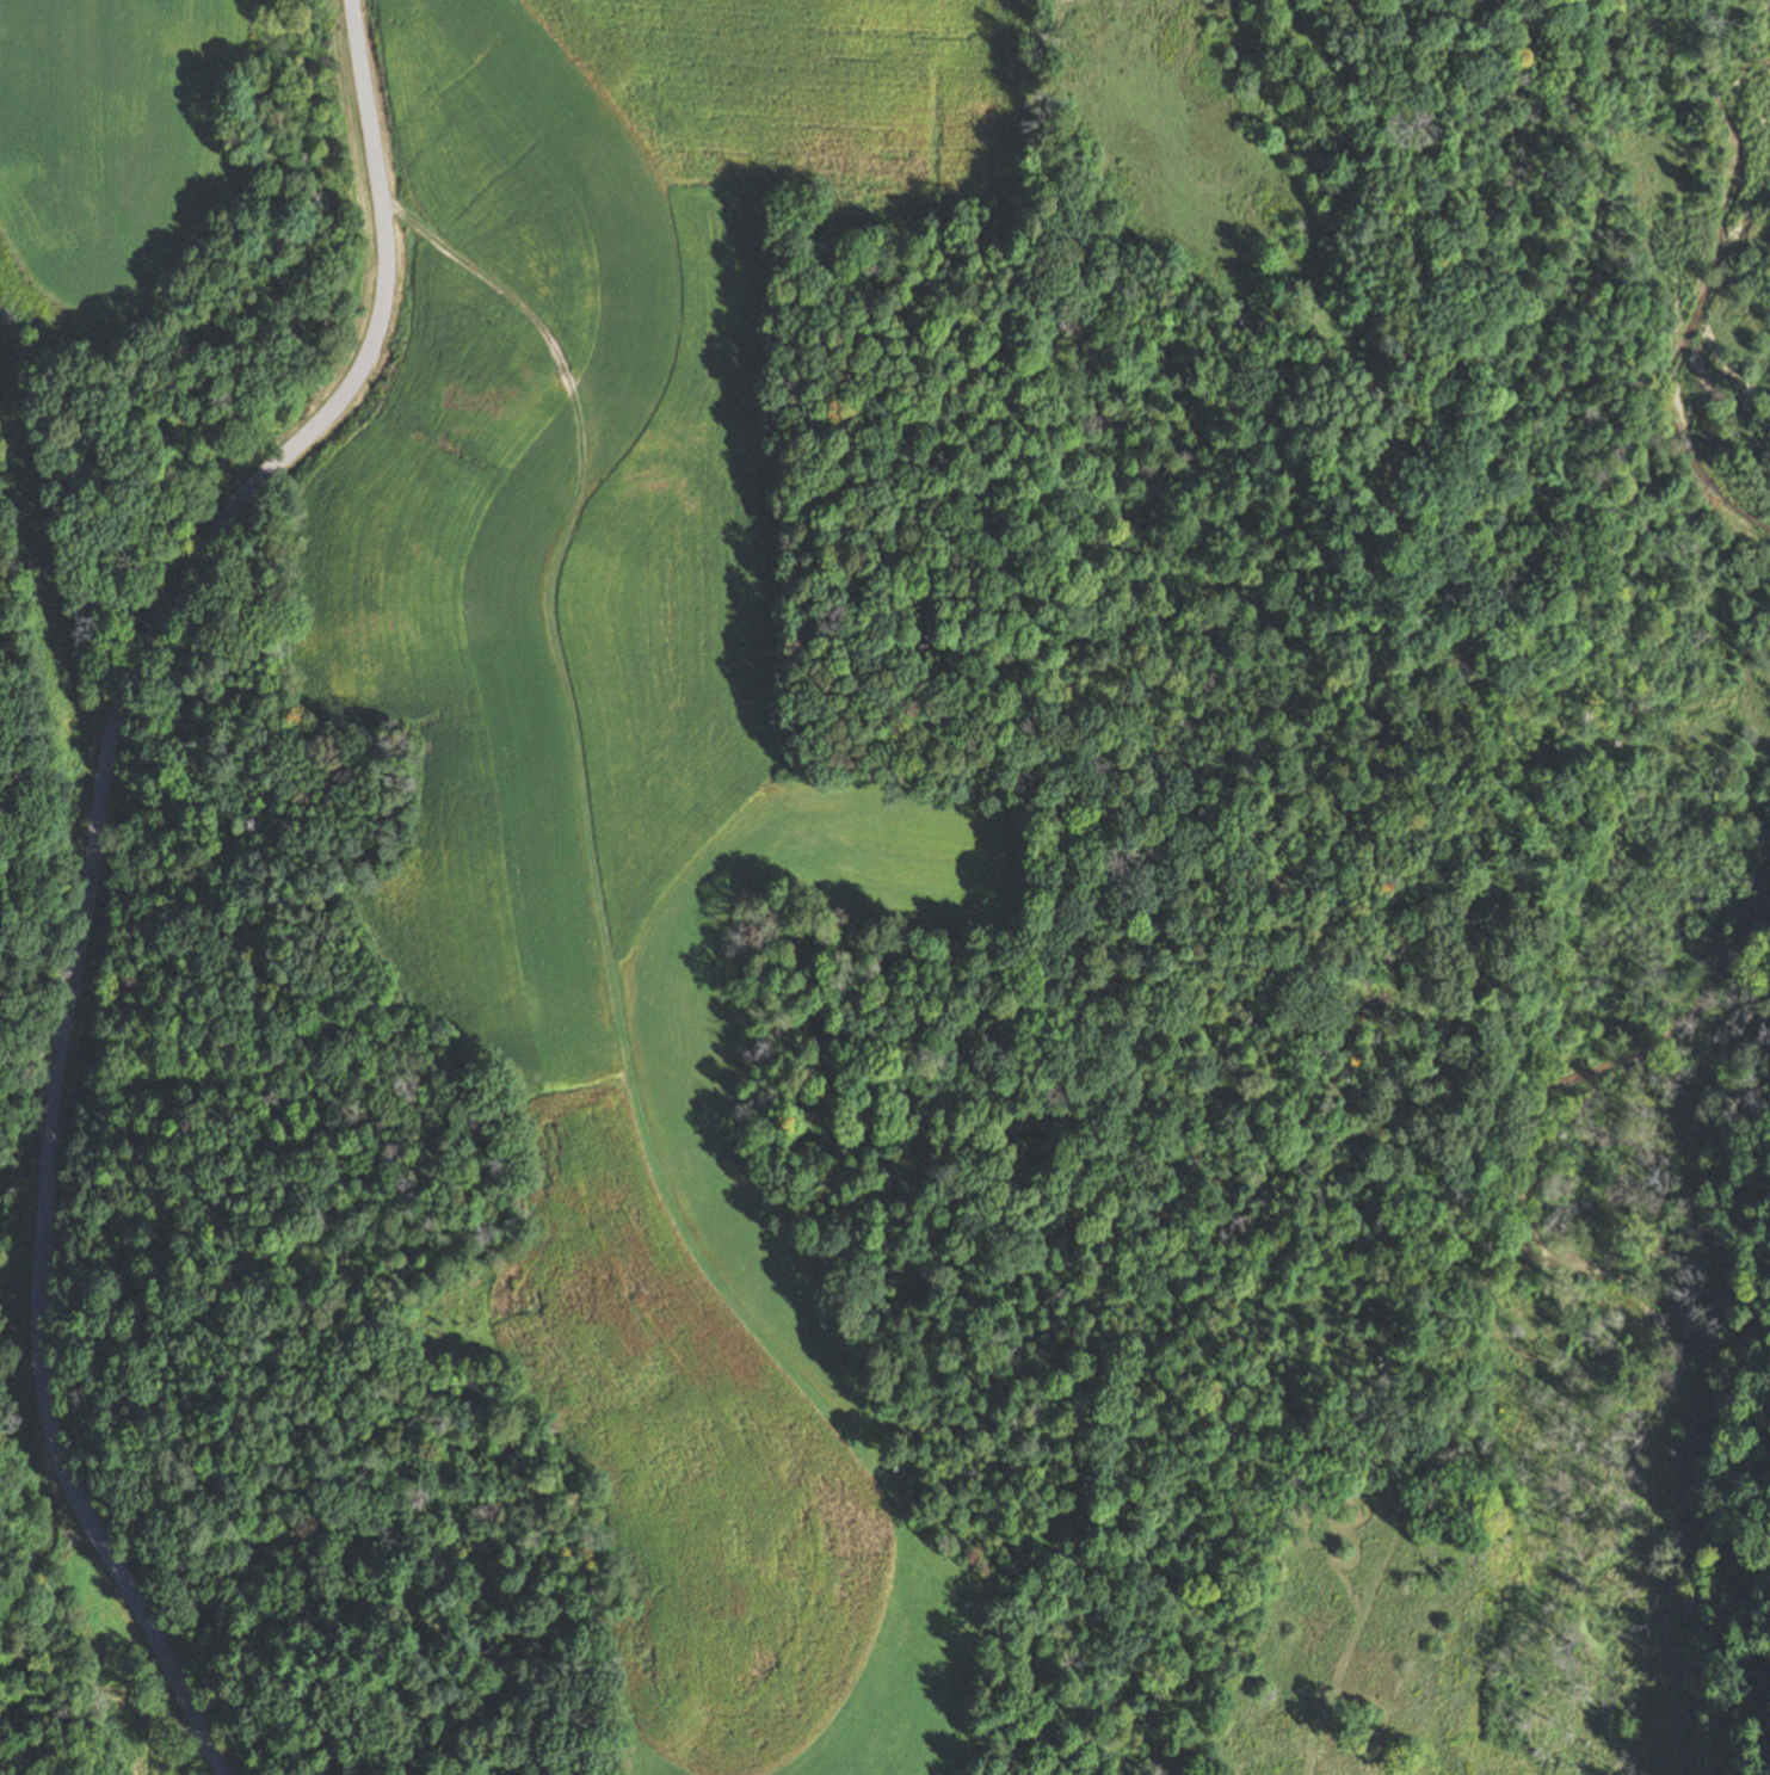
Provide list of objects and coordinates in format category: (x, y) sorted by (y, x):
road: (93, 864)

